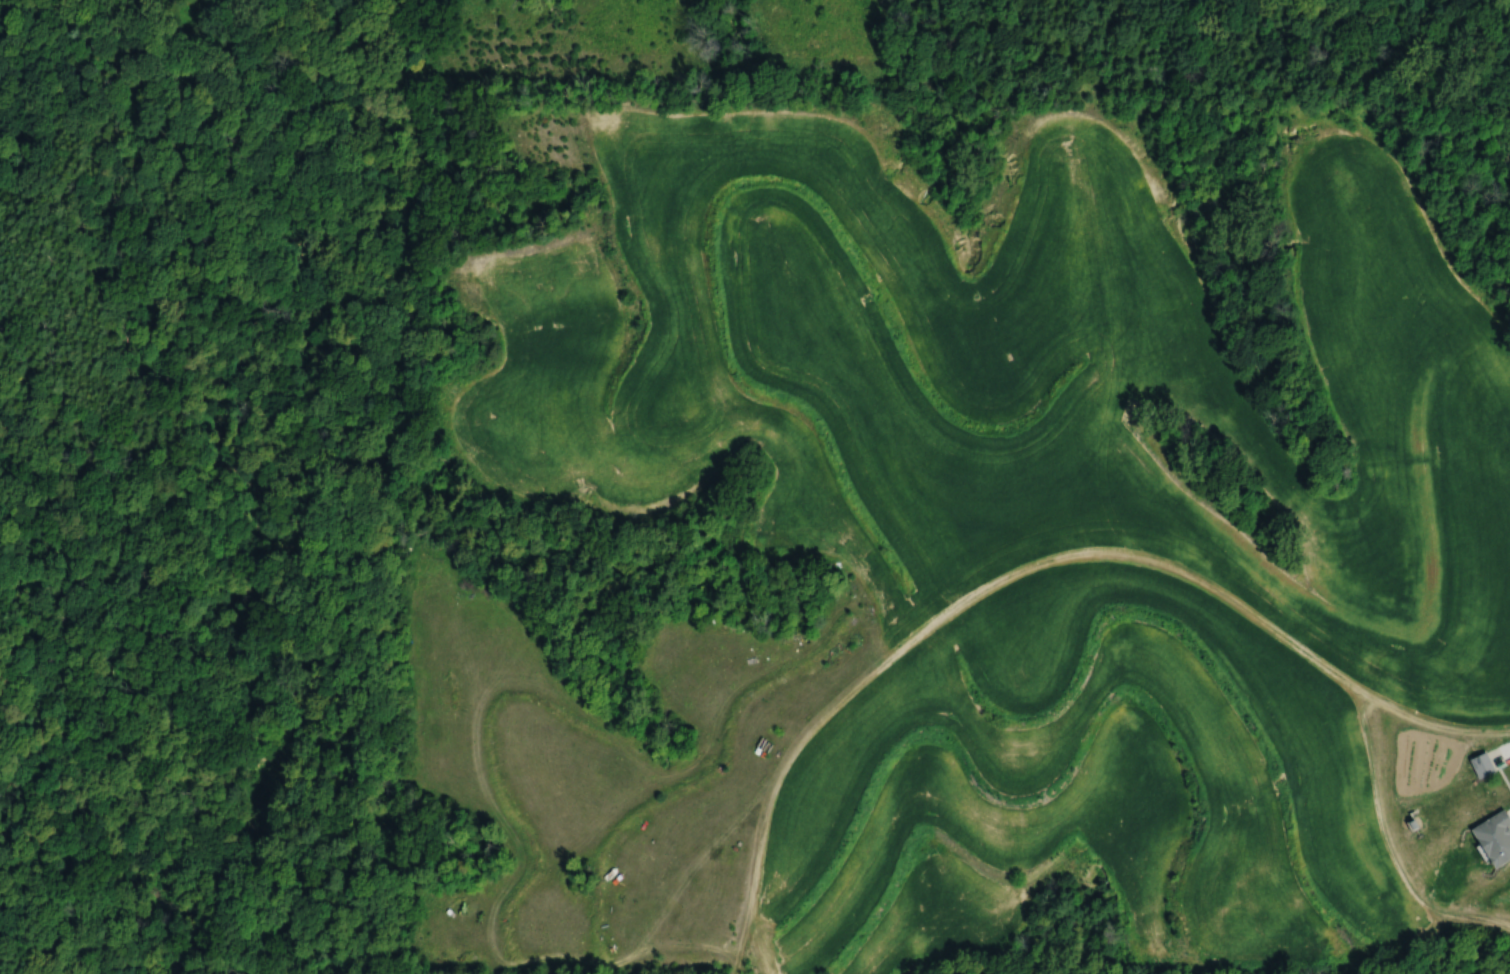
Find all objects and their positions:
road: (1030, 571)
building: (1479, 764)
road: (1375, 765)
road: (491, 805)
building: (1492, 837)

